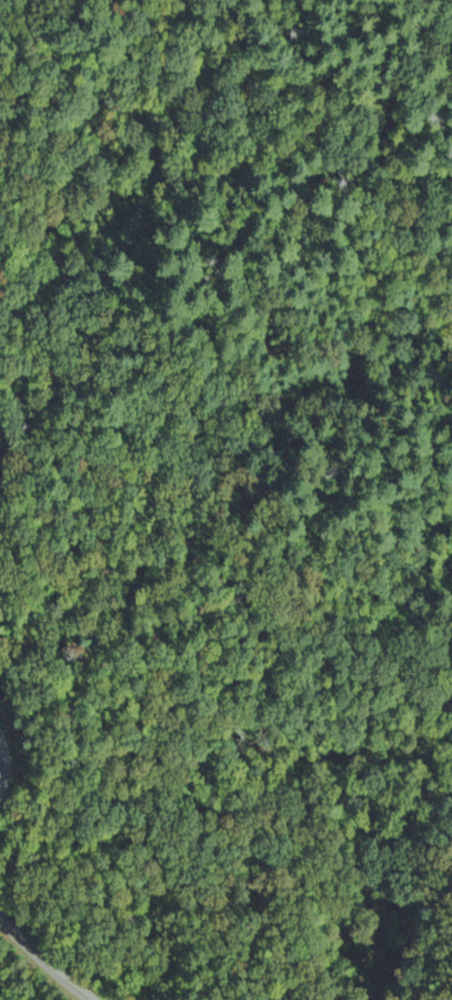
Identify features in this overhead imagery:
road: (2, 768)
road: (43, 961)

